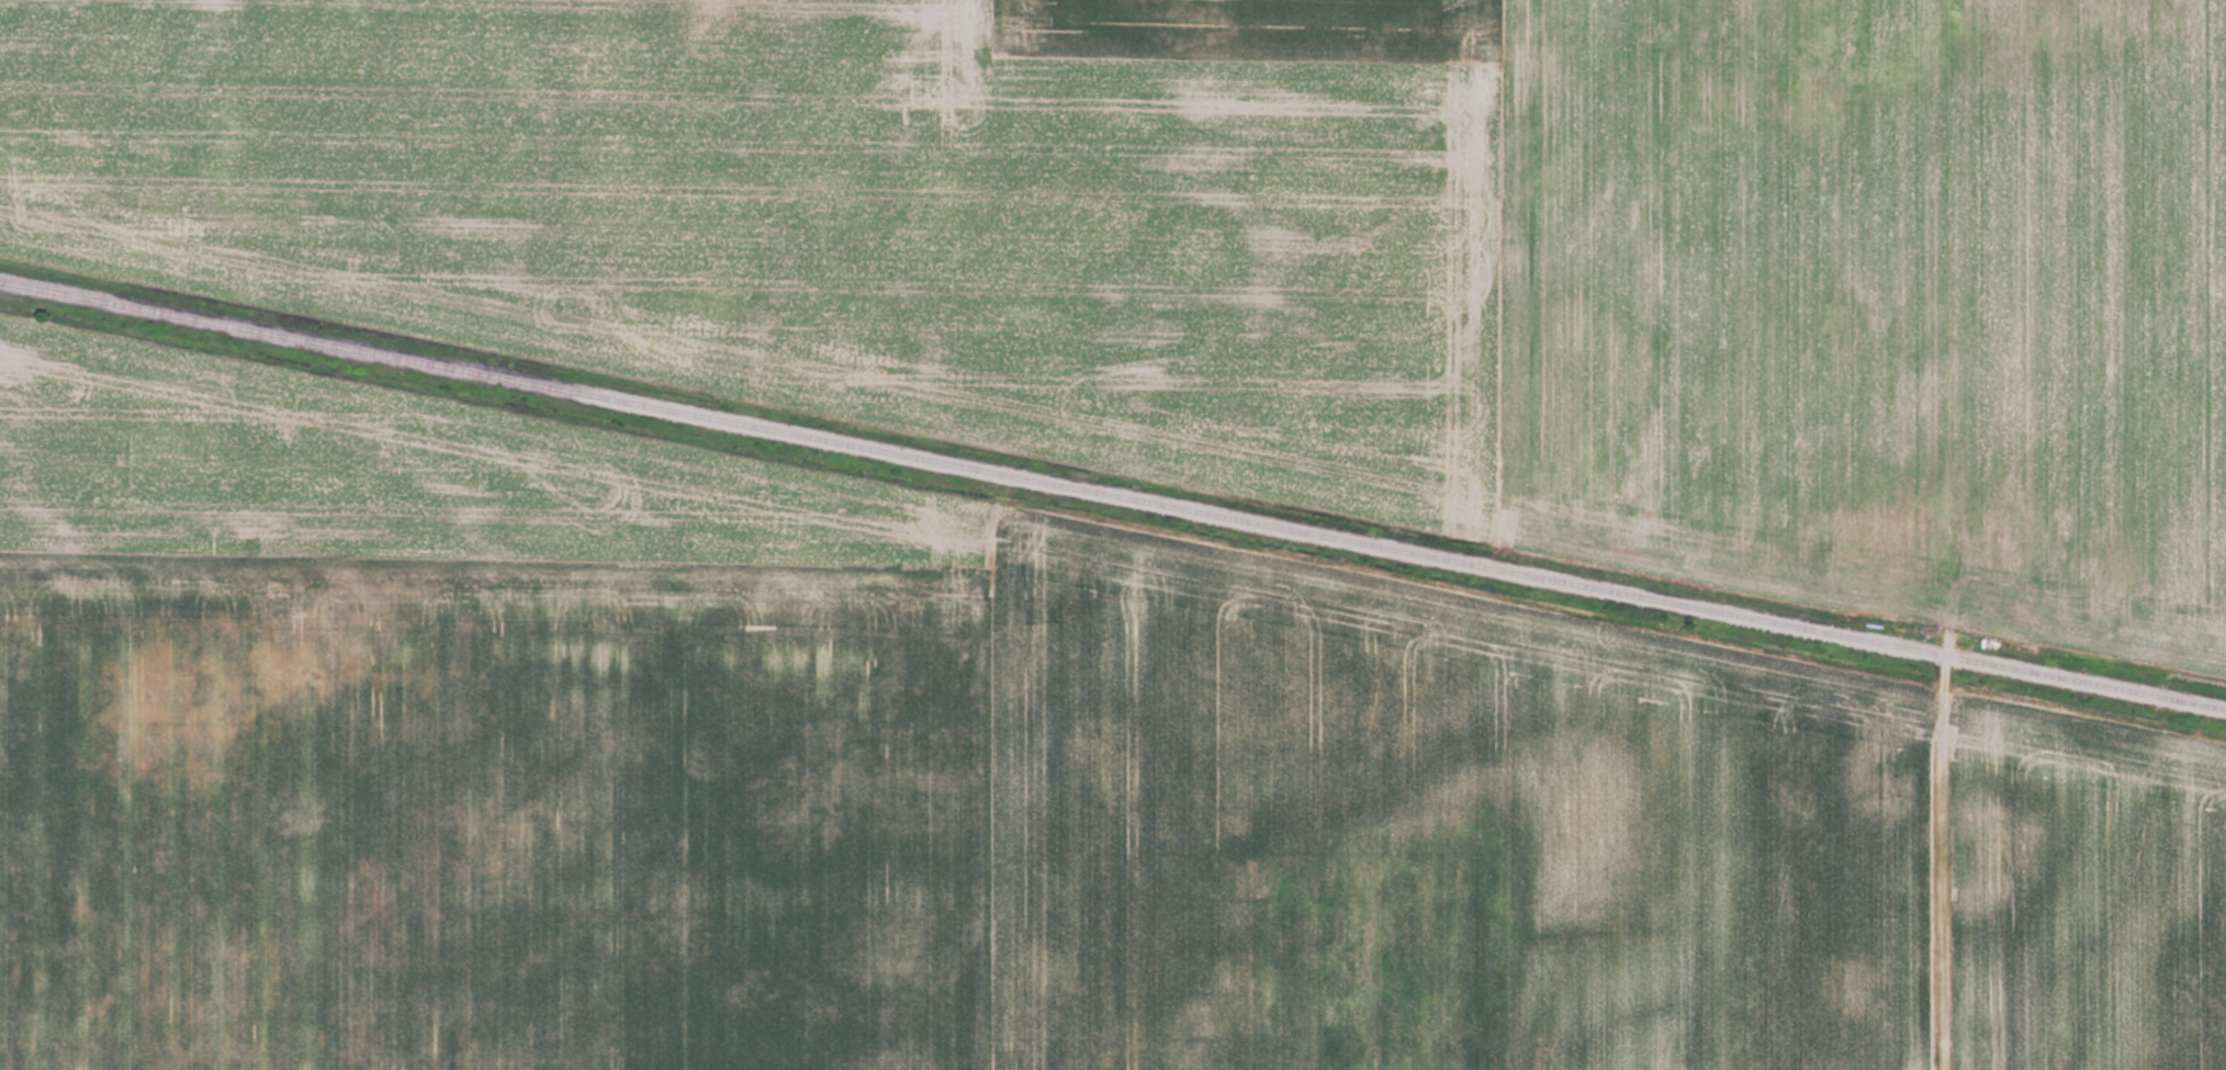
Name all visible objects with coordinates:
railway: (1113, 495)

